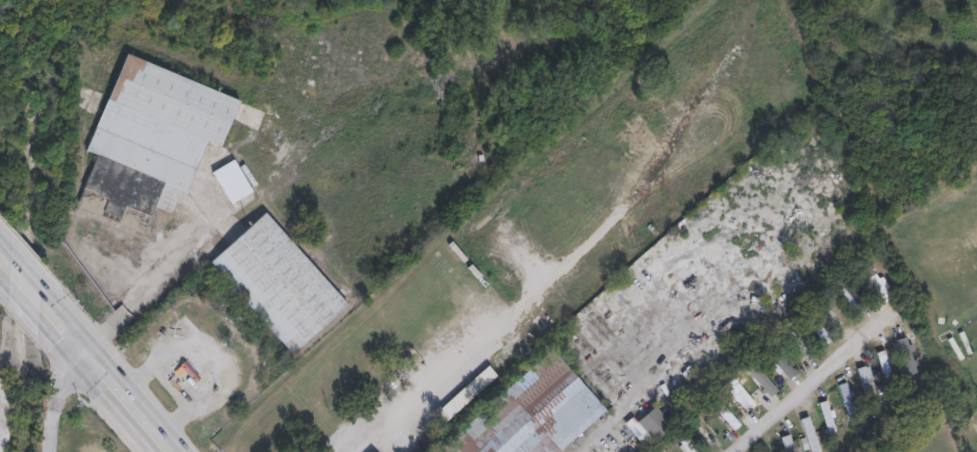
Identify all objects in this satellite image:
building: (152, 139)
building: (232, 181)
road: (131, 253)
road: (0, 267)
road: (0, 268)
road: (14, 282)
road: (154, 284)
road: (49, 321)
road: (218, 353)
building: (905, 357)
building: (884, 367)
road: (444, 373)
building: (758, 378)
road: (183, 381)
building: (866, 388)
road: (803, 390)
road: (115, 392)
road: (53, 397)
building: (846, 405)
building: (827, 419)
building: (810, 434)
building: (785, 444)
road: (163, 446)

